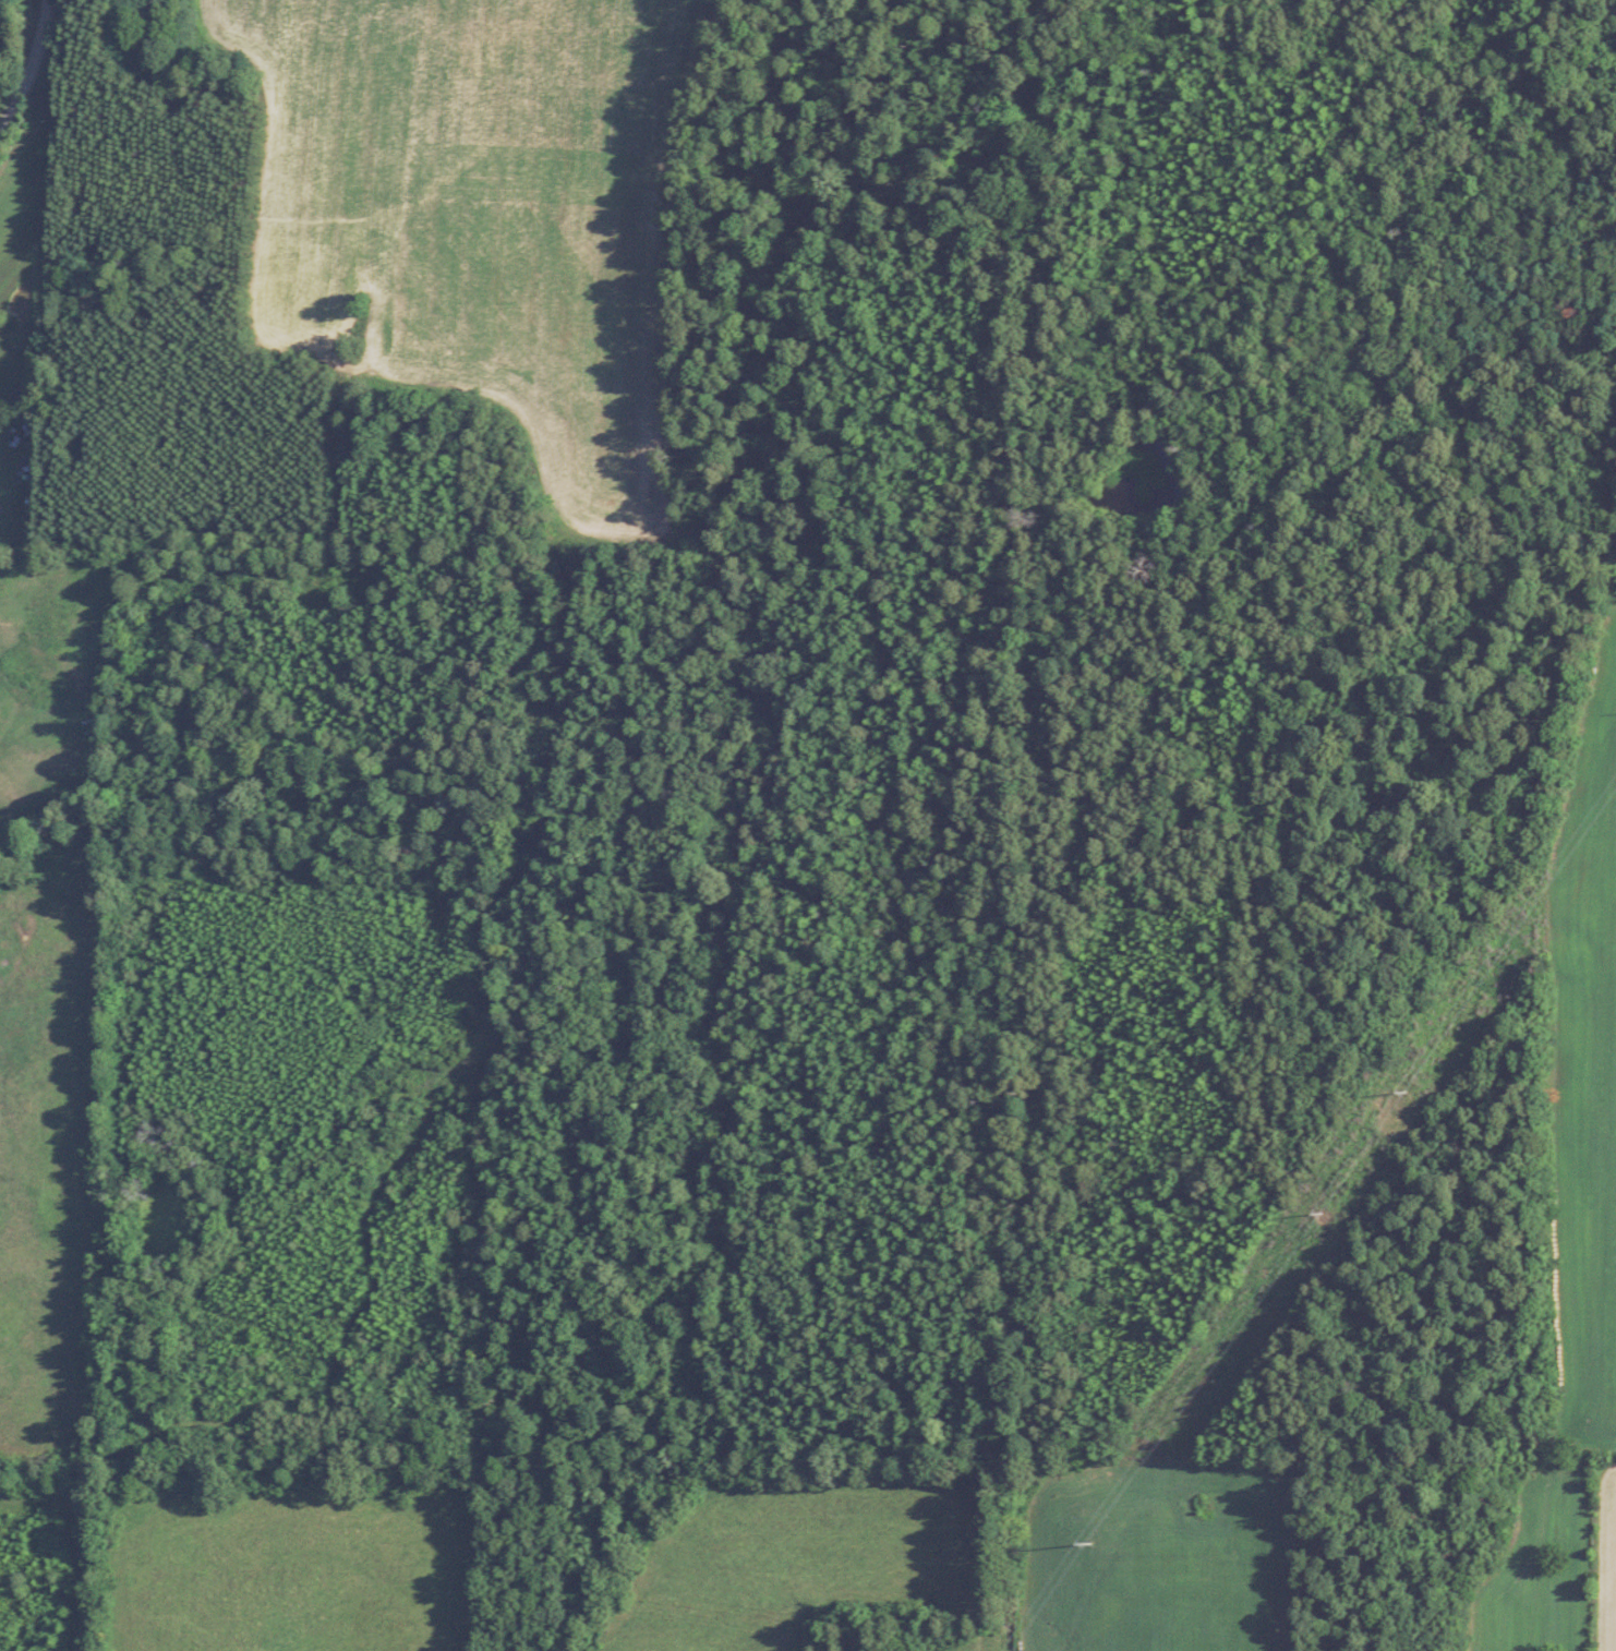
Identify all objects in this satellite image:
road: (27, 68)
power tower: (1403, 1089)
power tower: (1089, 1543)

